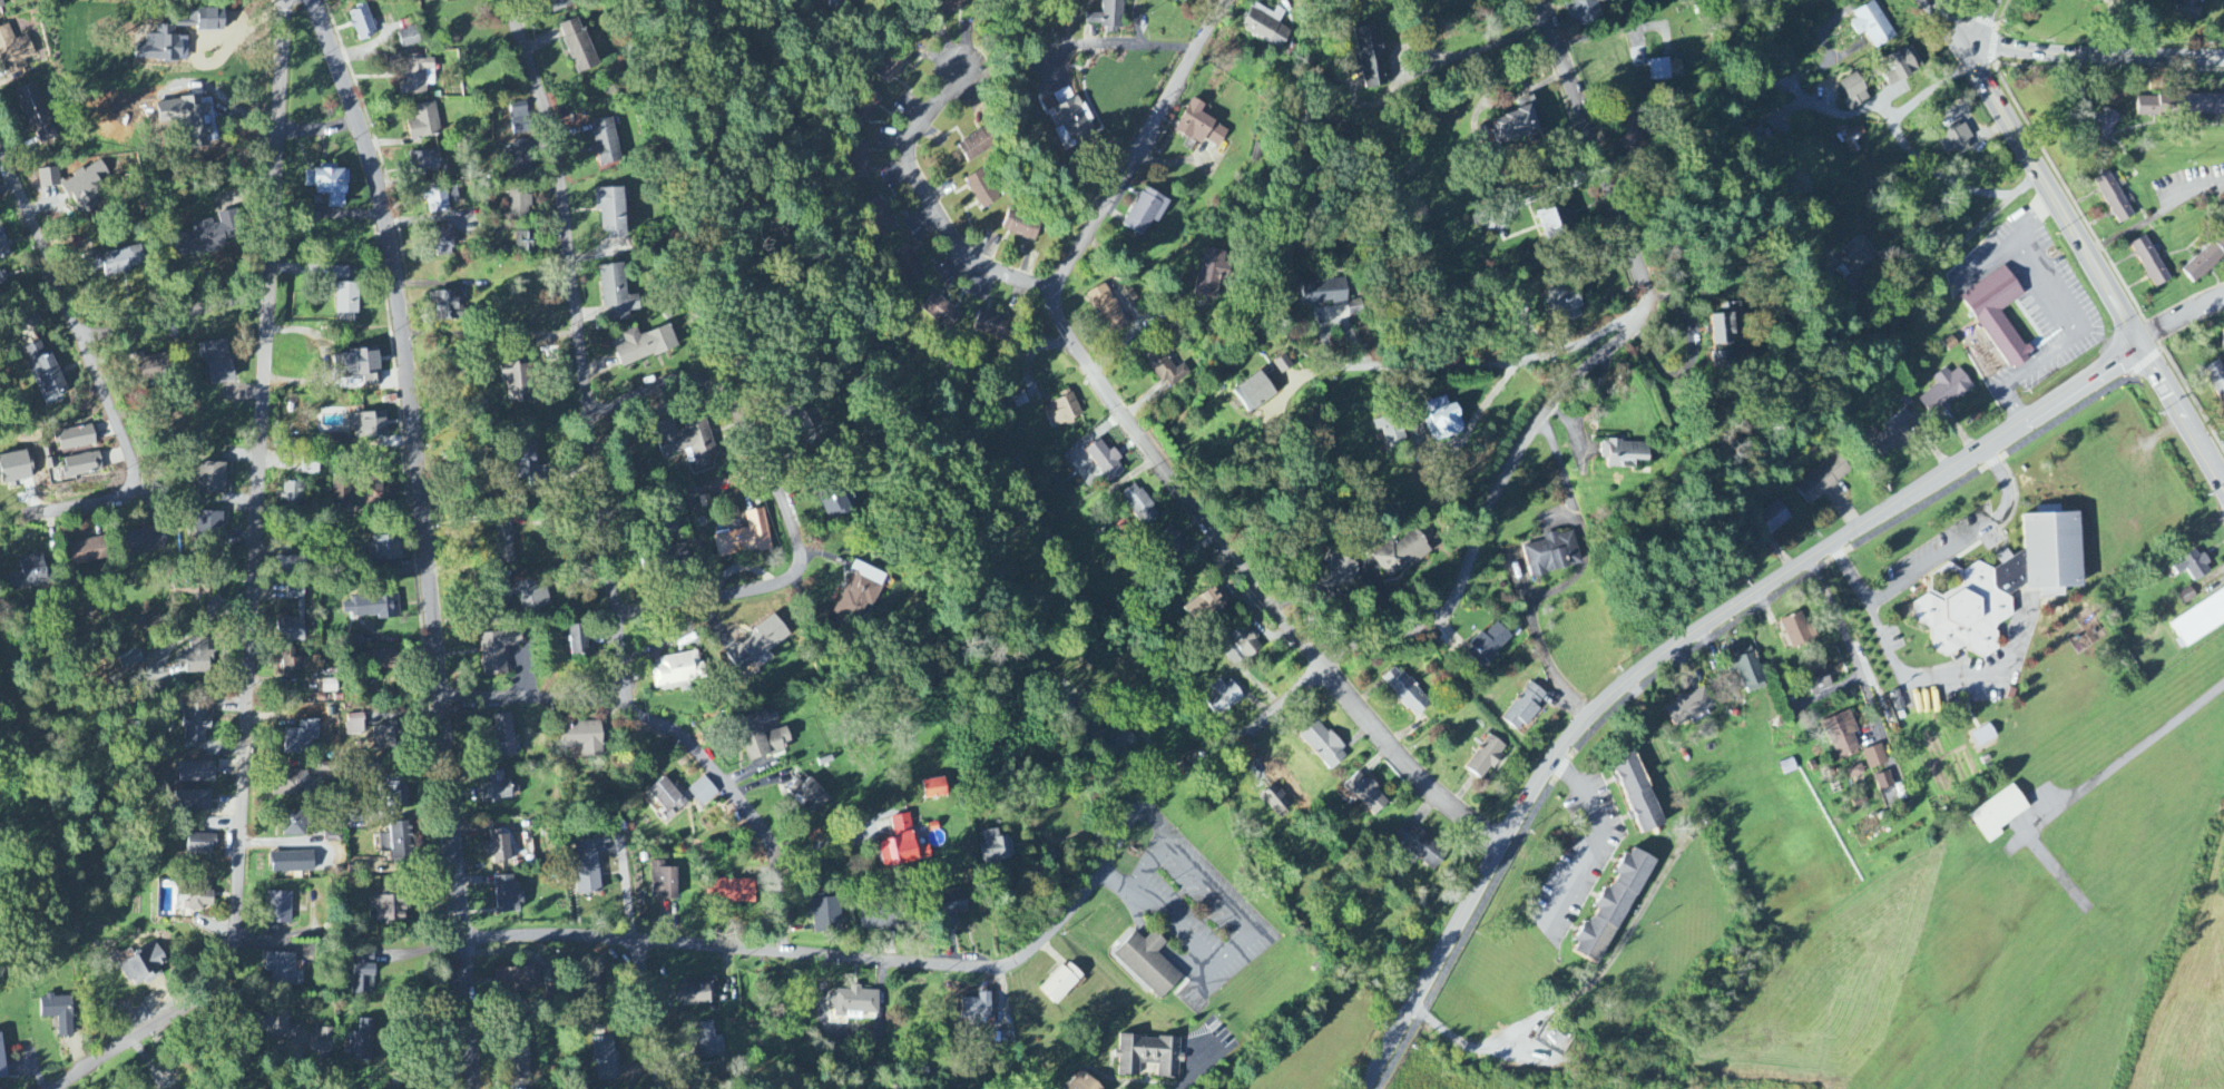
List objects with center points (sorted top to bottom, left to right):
building: (1188, 0)
building: (835, 3)
building: (950, 6)
building: (2188, 9)
building: (1583, 12)
building: (1108, 17)
building: (210, 20)
building: (186, 21)
road: (1980, 22)
building: (362, 23)
building: (1265, 27)
building: (1872, 27)
building: (408, 38)
road: (1115, 45)
building: (577, 46)
traffic signals: (1968, 46)
building: (164, 47)
road: (1474, 51)
building: (13, 52)
road: (2095, 53)
building: (1370, 57)
building: (890, 66)
building: (1900, 66)
building: (1659, 70)
building: (417, 76)
building: (1854, 92)
building: (866, 106)
building: (2158, 107)
building: (2205, 107)
road: (1831, 112)
building: (36, 114)
building: (1071, 114)
building: (423, 121)
building: (1520, 124)
building: (2105, 124)
building: (1199, 127)
building: (1628, 134)
road: (1900, 134)
building: (1064, 139)
building: (1954, 141)
building: (606, 143)
building: (978, 146)
road: (1138, 146)
road: (1600, 154)
building: (518, 161)
building: (855, 161)
building: (425, 164)
building: (77, 186)
building: (327, 186)
building: (982, 190)
road: (2189, 190)
building: (2114, 199)
building: (519, 205)
road: (932, 208)
building: (1146, 212)
building: (611, 213)
building: (1555, 220)
building: (881, 223)
road: (1978, 224)
building: (1021, 227)
road: (2124, 233)
building: (208, 236)
building: (441, 242)
road: (2076, 242)
building: (523, 243)
building: (3, 247)
building: (1856, 256)
building: (117, 262)
building: (2205, 262)
building: (2150, 263)
building: (907, 266)
building: (1212, 274)
building: (2, 278)
building: (1324, 293)
building: (616, 294)
building: (346, 300)
building: (1566, 304)
building: (447, 307)
building: (1355, 310)
building: (1107, 311)
building: (940, 313)
building: (1999, 316)
road: (2061, 316)
road: (175, 317)
road: (2182, 321)
building: (1725, 324)
building: (992, 326)
building: (644, 346)
road: (578, 347)
building: (2223, 347)
building: (1722, 359)
building: (218, 363)
road: (1487, 363)
building: (1283, 365)
building: (154, 366)
building: (360, 366)
building: (1165, 366)
building: (45, 374)
building: (2216, 380)
road: (97, 383)
building: (517, 383)
building: (1946, 392)
road: (2188, 392)
building: (1254, 393)
building: (1062, 413)
building: (1442, 421)
building: (799, 422)
building: (369, 426)
building: (1391, 431)
building: (1898, 432)
building: (76, 440)
building: (334, 443)
building: (687, 443)
road: (1448, 448)
building: (1624, 455)
building: (1104, 461)
building: (81, 467)
building: (308, 467)
building: (530, 468)
building: (14, 469)
building: (208, 479)
building: (1822, 480)
building: (341, 492)
road: (784, 492)
building: (292, 493)
building: (375, 496)
building: (837, 504)
building: (1138, 506)
road: (1497, 510)
building: (1771, 520)
road: (1578, 521)
building: (208, 527)
road: (425, 537)
road: (1968, 538)
building: (745, 539)
building: (147, 541)
building: (503, 543)
building: (385, 550)
building: (87, 552)
building: (1401, 555)
building: (1552, 555)
building: (292, 565)
building: (2193, 567)
building: (29, 573)
building: (192, 587)
building: (2003, 587)
road: (255, 589)
road: (1250, 592)
building: (858, 595)
building: (520, 597)
building: (2187, 597)
building: (1206, 606)
building: (371, 608)
building: (300, 610)
building: (2199, 621)
building: (1799, 631)
building: (577, 641)
building: (1490, 642)
road: (1679, 642)
building: (758, 645)
building: (1241, 647)
road: (1851, 648)
road: (1699, 649)
building: (497, 653)
road: (1545, 654)
building: (196, 658)
building: (129, 659)
building: (288, 663)
building: (380, 663)
building: (1746, 670)
building: (677, 671)
building: (1818, 681)
road: (1911, 681)
building: (1405, 693)
road: (530, 698)
building: (1222, 698)
building: (1689, 708)
building: (1524, 709)
building: (194, 723)
building: (354, 724)
building: (763, 735)
building: (1842, 735)
building: (502, 737)
building: (1985, 737)
building: (386, 738)
building: (301, 739)
building: (581, 739)
building: (1117, 744)
building: (1323, 746)
building: (1875, 758)
building: (1486, 759)
building: (195, 773)
building: (1855, 773)
building: (1884, 782)
building: (290, 784)
building: (494, 788)
building: (933, 788)
building: (703, 792)
building: (1638, 794)
building: (811, 795)
building: (1366, 795)
building: (666, 796)
building: (1893, 796)
building: (190, 802)
building: (1275, 802)
road: (741, 803)
building: (1999, 815)
road: (1156, 821)
building: (293, 825)
building: (396, 842)
road: (823, 842)
building: (199, 845)
building: (902, 845)
road: (1594, 845)
building: (1420, 847)
building: (498, 848)
building: (995, 848)
building: (292, 863)
airport taxiway: (2050, 865)
building: (586, 867)
building: (664, 882)
building: (729, 892)
road: (1127, 894)
building: (507, 896)
building: (199, 901)
building: (950, 903)
building: (389, 907)
building: (280, 909)
building: (1611, 911)
building: (826, 915)
building: (883, 916)
road: (1242, 928)
road: (1156, 942)
building: (1149, 961)
road: (1177, 961)
road: (953, 965)
building: (143, 968)
building: (282, 970)
building: (362, 972)
building: (517, 980)
building: (1061, 983)
road: (1206, 988)
airport runway: (1996, 992)
building: (696, 994)
building: (852, 1003)
building: (977, 1008)
building: (58, 1013)
road: (647, 1013)
building: (277, 1026)
building: (362, 1041)
building: (706, 1041)
building: (321, 1042)
building: (1148, 1056)
building: (605, 1059)
building: (1, 1061)
building: (519, 1062)
road: (1202, 1075)
building: (1082, 1082)

